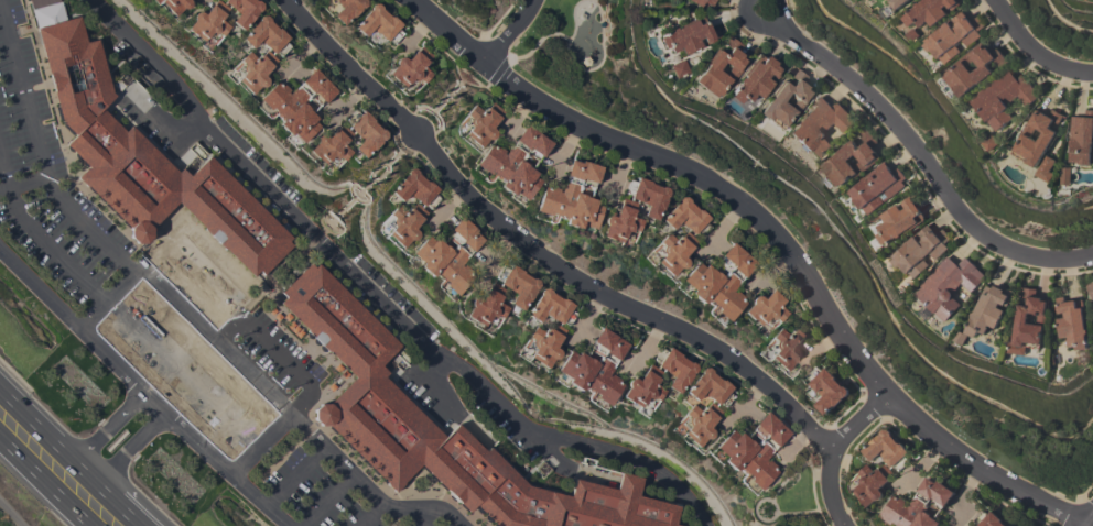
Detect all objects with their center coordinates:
building: (702, 2)
building: (899, 3)
building: (174, 6)
building: (347, 9)
building: (242, 11)
building: (930, 11)
building: (207, 22)
building: (378, 23)
road: (761, 26)
road: (512, 33)
building: (913, 34)
building: (266, 35)
building: (688, 35)
building: (954, 35)
road: (1038, 47)
park: (574, 58)
building: (975, 67)
building: (411, 68)
building: (678, 68)
building: (721, 68)
building: (251, 69)
building: (754, 79)
building: (321, 92)
building: (289, 95)
building: (1003, 98)
building: (786, 100)
building: (299, 122)
building: (480, 123)
building: (820, 125)
building: (365, 131)
building: (1038, 136)
building: (1082, 139)
building: (993, 142)
building: (331, 146)
building: (535, 147)
building: (505, 154)
road: (41, 156)
building: (852, 160)
building: (147, 161)
road: (927, 161)
building: (1047, 168)
building: (589, 175)
building: (1067, 175)
building: (519, 179)
road: (23, 184)
building: (877, 186)
building: (415, 188)
building: (561, 193)
building: (647, 196)
building: (582, 211)
building: (686, 217)
building: (900, 220)
building: (621, 222)
building: (402, 223)
building: (458, 231)
road: (777, 237)
road: (40, 239)
building: (921, 250)
road: (541, 251)
building: (672, 251)
building: (430, 254)
building: (729, 256)
building: (457, 264)
building: (702, 281)
road: (126, 283)
road: (238, 283)
building: (517, 284)
building: (949, 285)
building: (1090, 288)
building: (729, 289)
road: (371, 296)
building: (487, 306)
building: (551, 307)
building: (767, 307)
road: (247, 308)
building: (988, 309)
road: (271, 316)
building: (1028, 321)
building: (1072, 321)
parking lot: (176, 325)
building: (961, 338)
road: (216, 340)
building: (600, 341)
building: (543, 343)
building: (786, 346)
building: (673, 368)
building: (576, 369)
road: (325, 370)
road: (183, 373)
building: (605, 373)
road: (140, 387)
building: (710, 387)
building: (642, 388)
building: (829, 388)
building: (365, 392)
building: (697, 423)
road: (36, 425)
road: (108, 426)
building: (762, 426)
road: (275, 427)
building: (734, 448)
building: (888, 449)
road: (288, 450)
road: (833, 453)
road: (297, 457)
building: (761, 458)
road: (118, 470)
road: (294, 475)
road: (44, 481)
building: (872, 483)
road: (366, 490)
road: (107, 493)
building: (941, 497)
road: (325, 500)
building: (910, 504)
road: (367, 514)
road: (10, 515)
road: (426, 516)
building: (926, 519)
building: (988, 519)
road: (1092, 524)
building: (970, 525)

